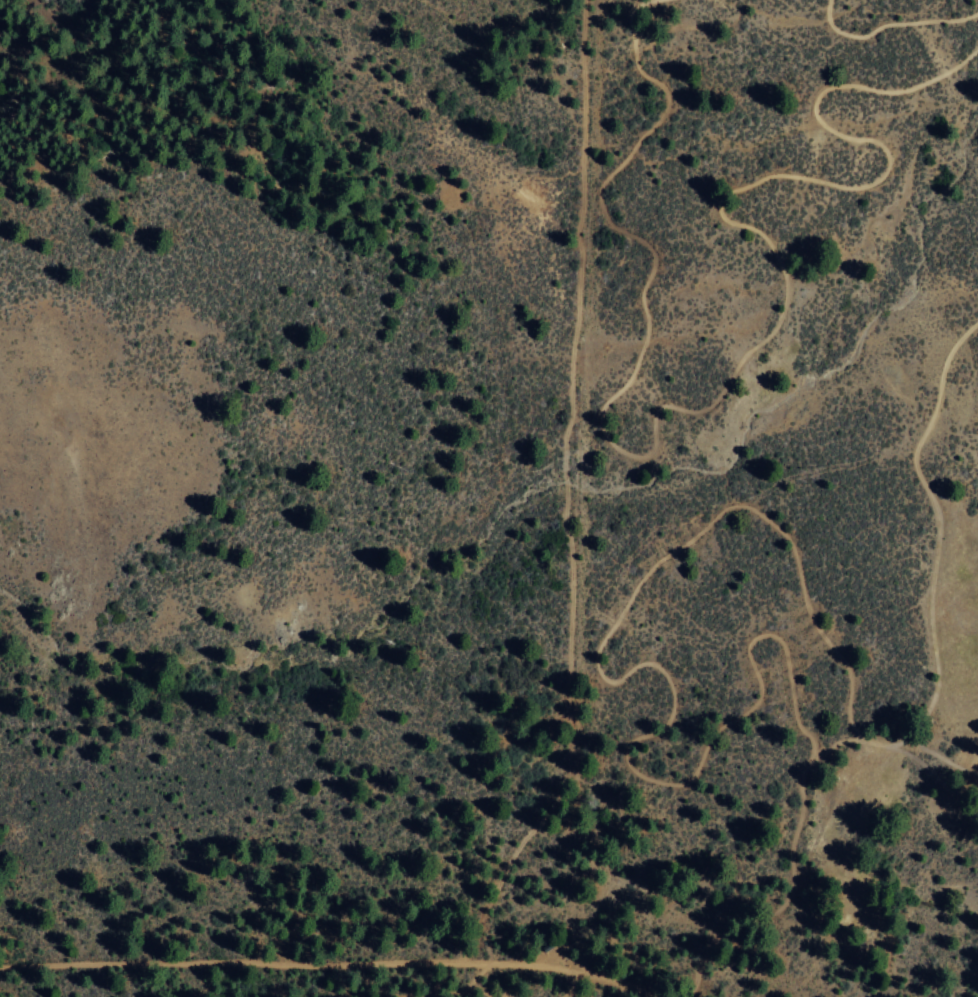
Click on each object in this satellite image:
crop: (907, 668)
road: (330, 963)

